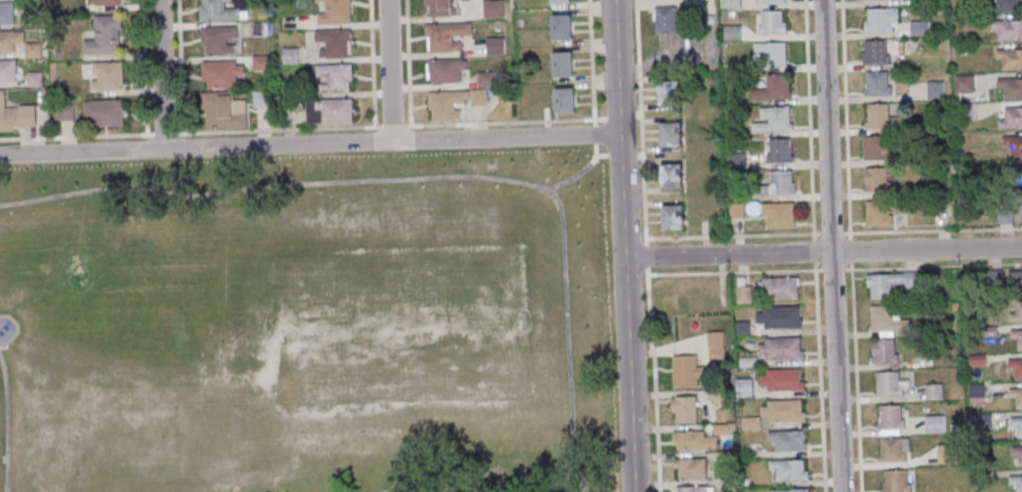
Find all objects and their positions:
building: (882, 0)
building: (560, 1)
building: (771, 1)
building: (106, 3)
building: (732, 3)
building: (1009, 5)
building: (442, 8)
building: (492, 8)
building: (222, 10)
building: (335, 12)
building: (7, 13)
building: (666, 19)
building: (881, 19)
building: (773, 22)
building: (562, 27)
building: (921, 28)
building: (260, 29)
building: (1008, 29)
building: (733, 32)
building: (446, 36)
building: (106, 37)
building: (219, 40)
building: (11, 42)
building: (334, 43)
building: (496, 46)
building: (773, 52)
building: (876, 52)
building: (291, 55)
building: (1010, 57)
building: (261, 61)
building: (563, 64)
road: (592, 70)
road: (390, 71)
building: (446, 71)
building: (8, 72)
building: (222, 73)
road: (161, 75)
building: (108, 76)
building: (335, 78)
building: (486, 79)
building: (877, 83)
building: (965, 83)
building: (1011, 86)
building: (772, 89)
building: (935, 89)
building: (670, 92)
building: (262, 98)
building: (565, 100)
building: (453, 103)
building: (224, 110)
building: (330, 111)
building: (105, 113)
building: (17, 116)
building: (881, 117)
building: (1012, 118)
building: (774, 119)
road: (594, 133)
building: (671, 133)
road: (310, 144)
building: (1014, 144)
building: (877, 147)
building: (780, 150)
road: (596, 155)
road: (615, 155)
road: (574, 175)
building: (673, 175)
road: (445, 178)
building: (879, 180)
building: (780, 183)
building: (1010, 210)
building: (879, 213)
building: (779, 214)
building: (674, 216)
road: (624, 246)
road: (646, 246)
road: (830, 246)
road: (823, 253)
building: (1015, 279)
building: (890, 283)
building: (777, 288)
building: (745, 293)
building: (1017, 313)
building: (779, 316)
building: (888, 320)
park: (303, 330)
building: (1017, 337)
building: (717, 345)
building: (780, 348)
building: (885, 351)
building: (976, 359)
building: (1016, 366)
building: (687, 371)
building: (782, 379)
building: (891, 383)
building: (745, 387)
building: (934, 391)
building: (977, 393)
building: (1017, 395)
building: (685, 408)
building: (783, 410)
building: (891, 419)
road: (7, 421)
building: (751, 422)
building: (936, 423)
building: (1017, 423)
building: (692, 439)
building: (789, 440)
building: (894, 449)
building: (1017, 452)
building: (949, 454)
building: (691, 468)
building: (791, 468)
building: (896, 480)
road: (580, 481)
building: (1016, 481)
road: (408, 484)
building: (695, 489)
building: (790, 490)

